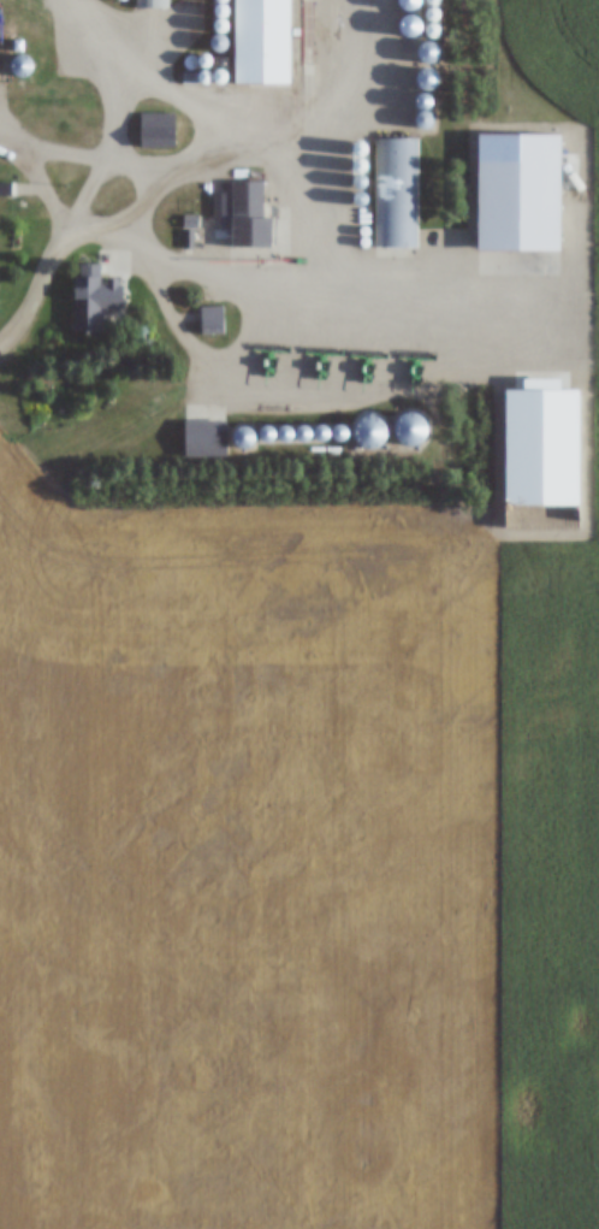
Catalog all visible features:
building: (152, 4)
building: (262, 41)
building: (432, 51)
building: (158, 129)
building: (397, 191)
building: (242, 209)
road: (327, 231)
road: (36, 297)
building: (95, 297)
building: (213, 319)
building: (409, 427)
building: (206, 438)

